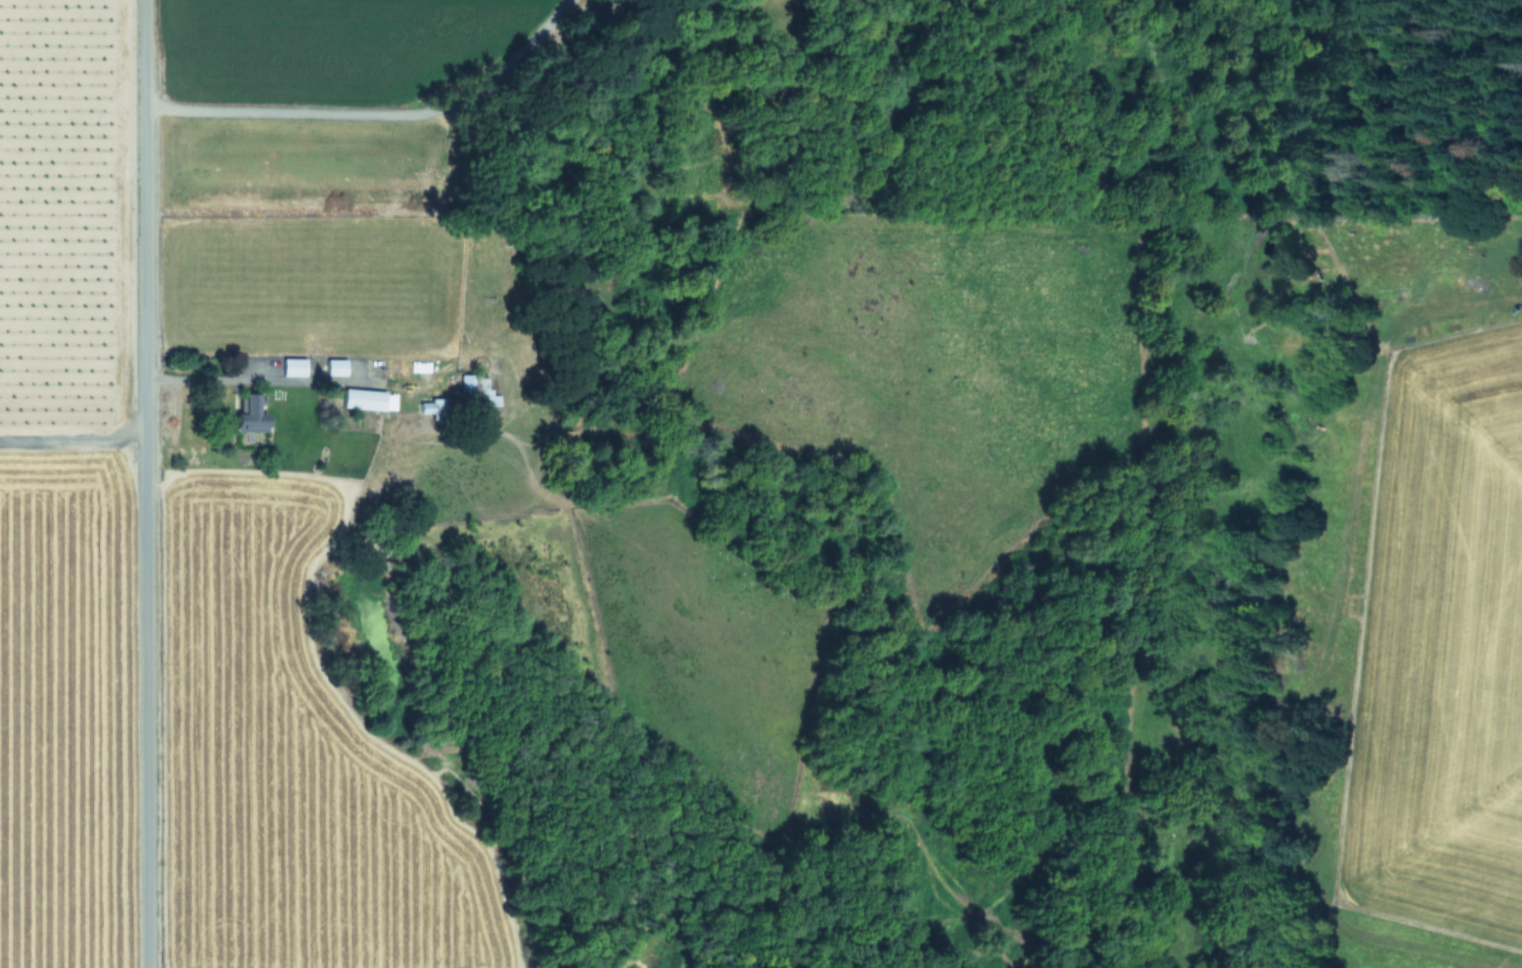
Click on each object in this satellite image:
road: (372, 110)
building: (292, 366)
building: (335, 366)
road: (197, 376)
building: (465, 383)
building: (484, 392)
building: (362, 398)
building: (434, 406)
building: (249, 414)
crop: (323, 472)
road: (142, 484)
river: (1084, 505)
crop: (1440, 619)

